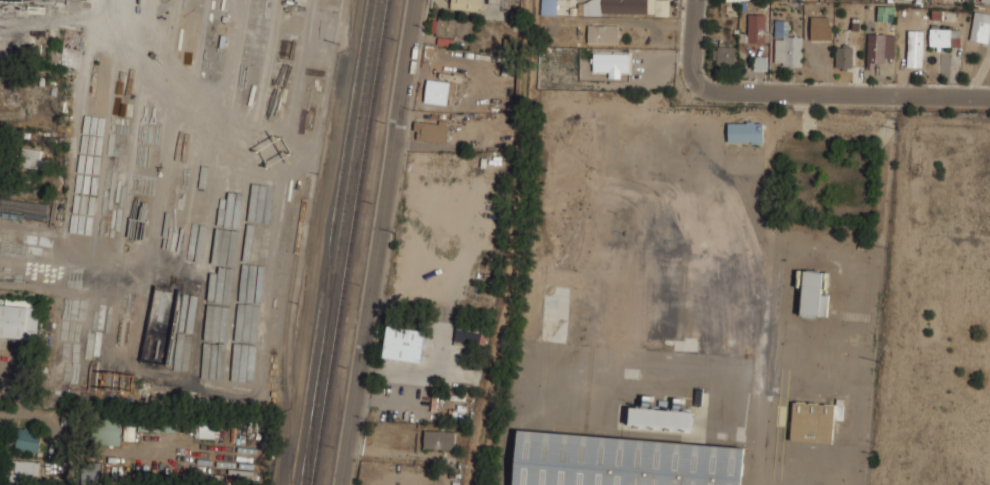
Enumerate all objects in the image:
building: (739, 0)
building: (985, 1)
building: (466, 4)
building: (548, 7)
building: (619, 7)
building: (885, 13)
building: (980, 26)
building: (756, 28)
building: (779, 28)
building: (820, 28)
building: (450, 30)
building: (603, 34)
building: (944, 37)
road: (691, 43)
building: (879, 47)
building: (788, 50)
building: (723, 54)
building: (843, 56)
building: (611, 62)
building: (760, 63)
building: (441, 91)
road: (843, 95)
railway: (351, 112)
building: (432, 131)
building: (745, 132)
building: (33, 157)
railway: (345, 202)
railway: (351, 242)
road: (379, 242)
railway: (329, 282)
building: (813, 294)
building: (13, 320)
building: (467, 338)
building: (403, 344)
railway: (312, 354)
road: (18, 413)
building: (661, 418)
building: (815, 421)
building: (159, 423)
building: (204, 428)
building: (105, 430)
road: (757, 430)
building: (129, 432)
building: (27, 439)
building: (439, 439)
railway: (307, 445)
railway: (310, 445)
building: (622, 460)
building: (21, 472)
building: (90, 473)

